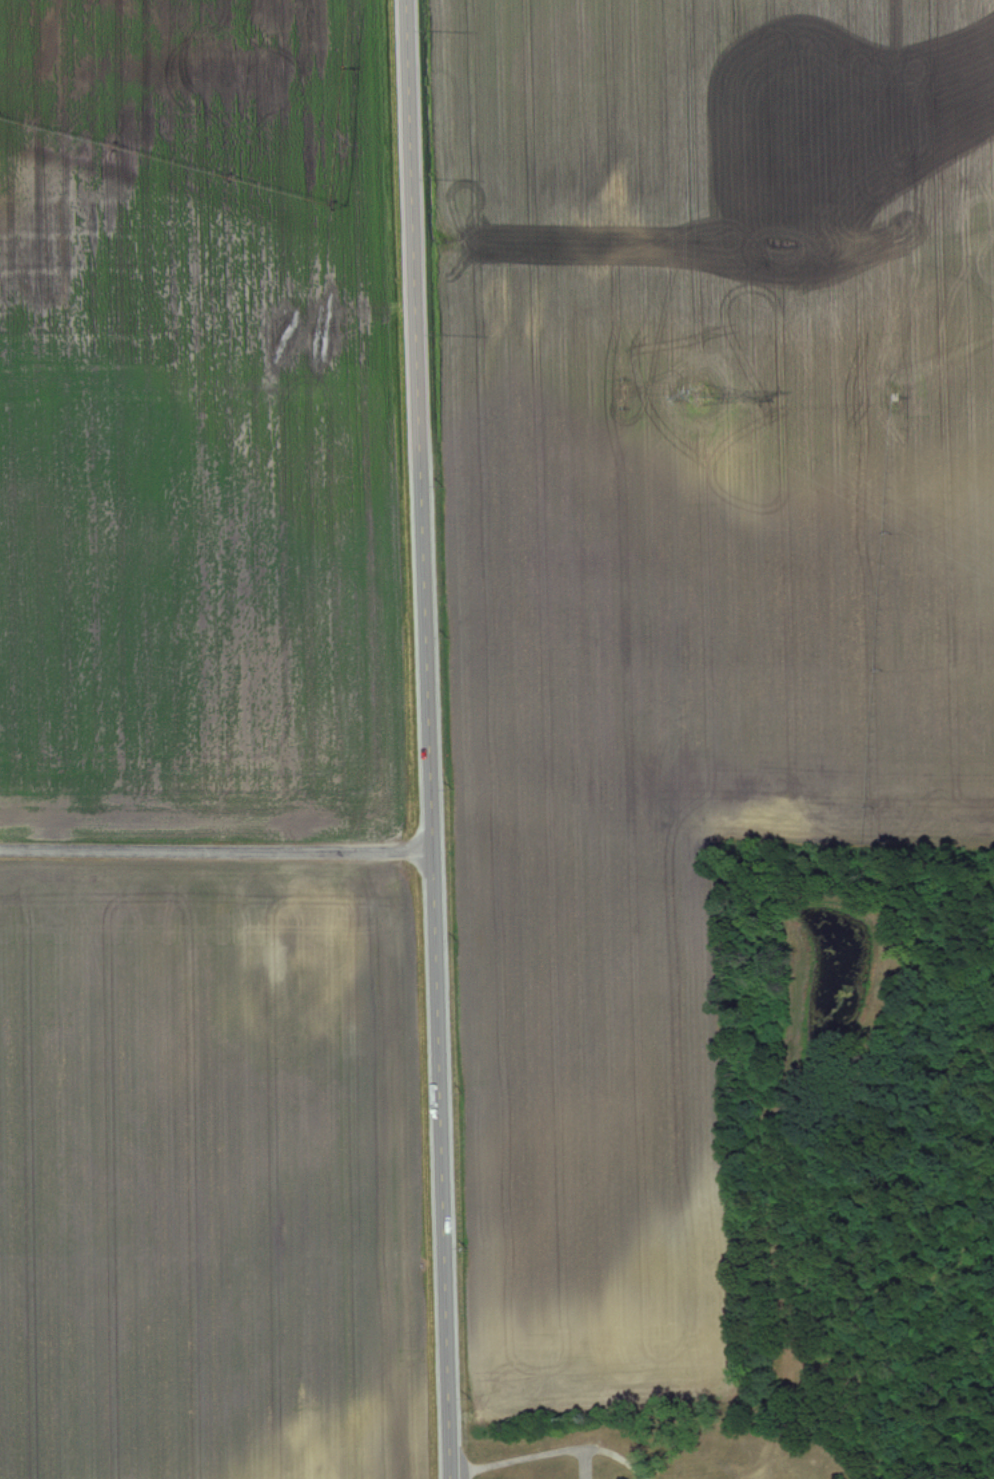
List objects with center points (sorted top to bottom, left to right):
road: (432, 739)
road: (217, 851)
road: (551, 1451)

